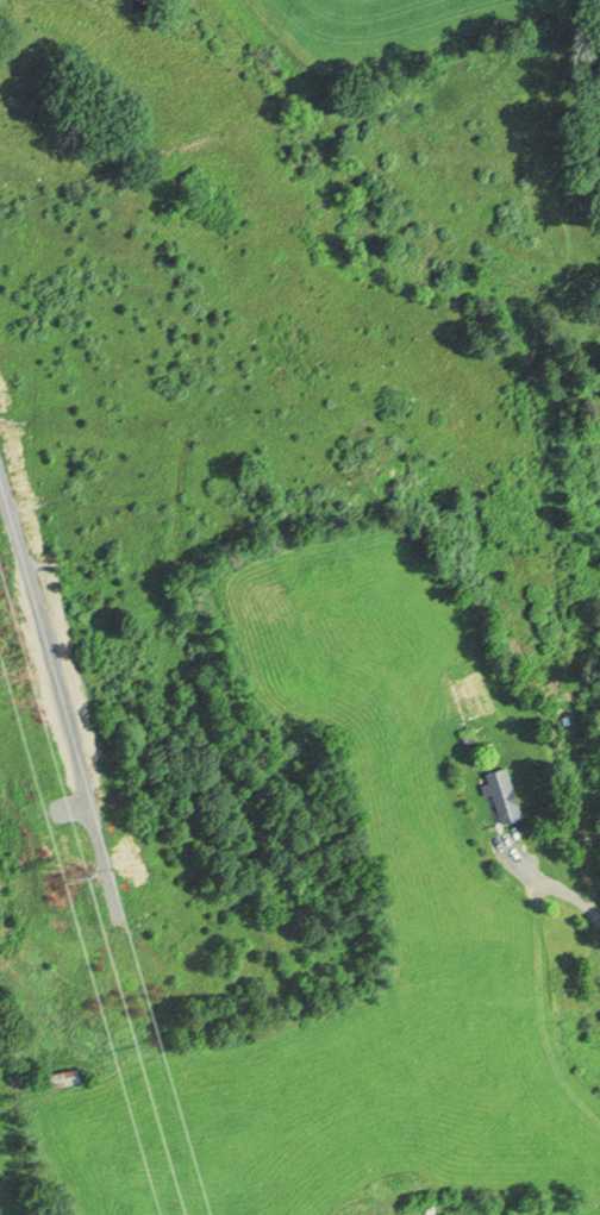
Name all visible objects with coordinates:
building: (499, 795)
road: (550, 883)
power tower: (87, 889)

